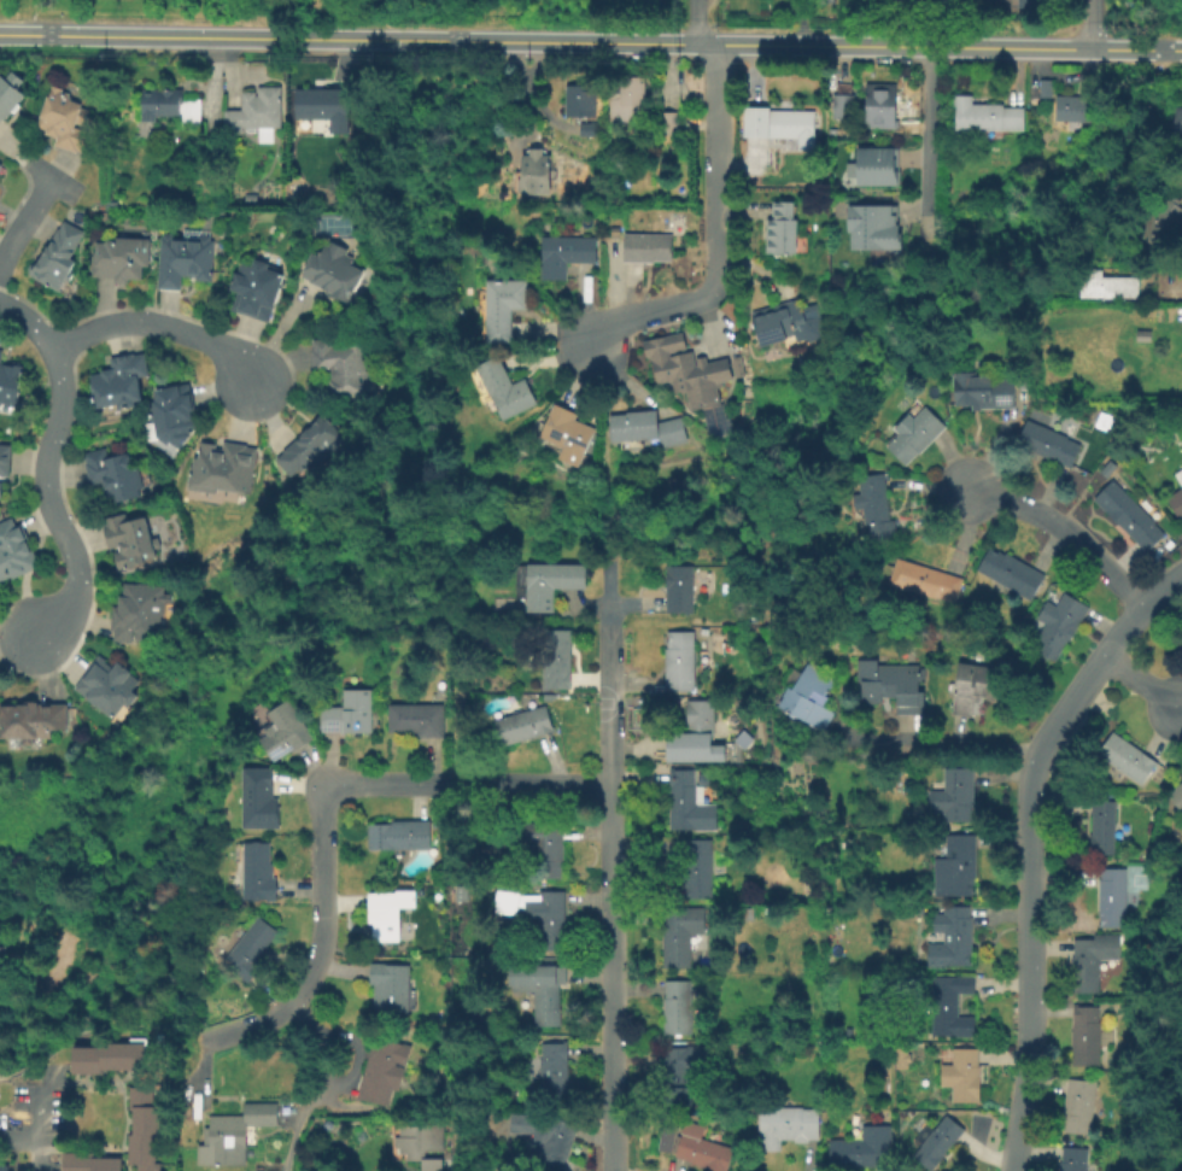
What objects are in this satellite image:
building: (1028, 5)
park: (321, 8)
road: (235, 18)
road: (696, 23)
road: (861, 23)
road: (1092, 24)
road: (714, 34)
road: (590, 43)
building: (12, 88)
building: (1046, 90)
building: (579, 95)
building: (626, 96)
building: (878, 101)
building: (170, 103)
building: (843, 104)
building: (323, 105)
building: (1071, 107)
building: (257, 109)
building: (70, 115)
building: (985, 115)
building: (778, 119)
building: (665, 121)
building: (1177, 125)
road: (928, 127)
building: (589, 131)
building: (2, 162)
building: (877, 164)
building: (531, 170)
building: (113, 205)
building: (1161, 218)
road: (23, 226)
building: (779, 226)
building: (872, 226)
road: (719, 235)
building: (648, 245)
building: (561, 252)
building: (60, 257)
building: (122, 257)
building: (186, 258)
building: (333, 270)
building: (1104, 282)
building: (253, 288)
road: (1180, 297)
building: (499, 304)
road: (29, 320)
building: (778, 320)
road: (105, 327)
building: (1142, 334)
road: (213, 344)
building: (341, 368)
building: (697, 369)
building: (10, 380)
building: (122, 380)
building: (501, 385)
building: (984, 391)
building: (172, 412)
building: (645, 426)
building: (566, 431)
building: (914, 433)
building: (1048, 441)
building: (310, 445)
building: (6, 457)
building: (223, 468)
building: (113, 474)
building: (1178, 475)
building: (1, 487)
road: (49, 499)
building: (1176, 500)
building: (873, 505)
building: (1128, 514)
road: (1066, 532)
building: (129, 538)
building: (14, 550)
building: (1011, 572)
building: (924, 579)
building: (549, 581)
building: (678, 587)
building: (139, 610)
building: (1061, 619)
building: (1181, 637)
building: (555, 656)
building: (679, 660)
building: (110, 684)
building: (973, 684)
road: (1143, 684)
building: (894, 685)
building: (807, 695)
building: (347, 712)
building: (419, 715)
building: (31, 719)
building: (522, 722)
building: (282, 728)
building: (698, 728)
road: (943, 743)
building: (691, 746)
building: (1127, 756)
road: (472, 785)
building: (954, 794)
building: (1177, 795)
building: (253, 796)
building: (689, 802)
building: (1104, 825)
building: (399, 833)
building: (544, 847)
road: (1030, 849)
building: (958, 863)
building: (698, 867)
building: (257, 871)
road: (610, 897)
building: (1112, 897)
road: (323, 902)
building: (386, 912)
building: (748, 912)
building: (552, 920)
building: (680, 932)
building: (950, 936)
building: (248, 947)
building: (1092, 959)
building: (2, 970)
building: (391, 984)
building: (544, 991)
building: (952, 1005)
building: (678, 1006)
road: (157, 1025)
road: (252, 1026)
building: (1086, 1035)
road: (59, 1043)
building: (111, 1055)
building: (555, 1062)
building: (382, 1068)
road: (19, 1070)
building: (683, 1072)
building: (961, 1072)
road: (1, 1078)
road: (315, 1085)
building: (1079, 1105)
building: (789, 1119)
road: (34, 1126)
building: (146, 1128)
building: (234, 1136)
building: (549, 1136)
building: (936, 1141)
building: (422, 1143)
building: (867, 1146)
building: (701, 1147)
building: (1073, 1158)
building: (90, 1161)

